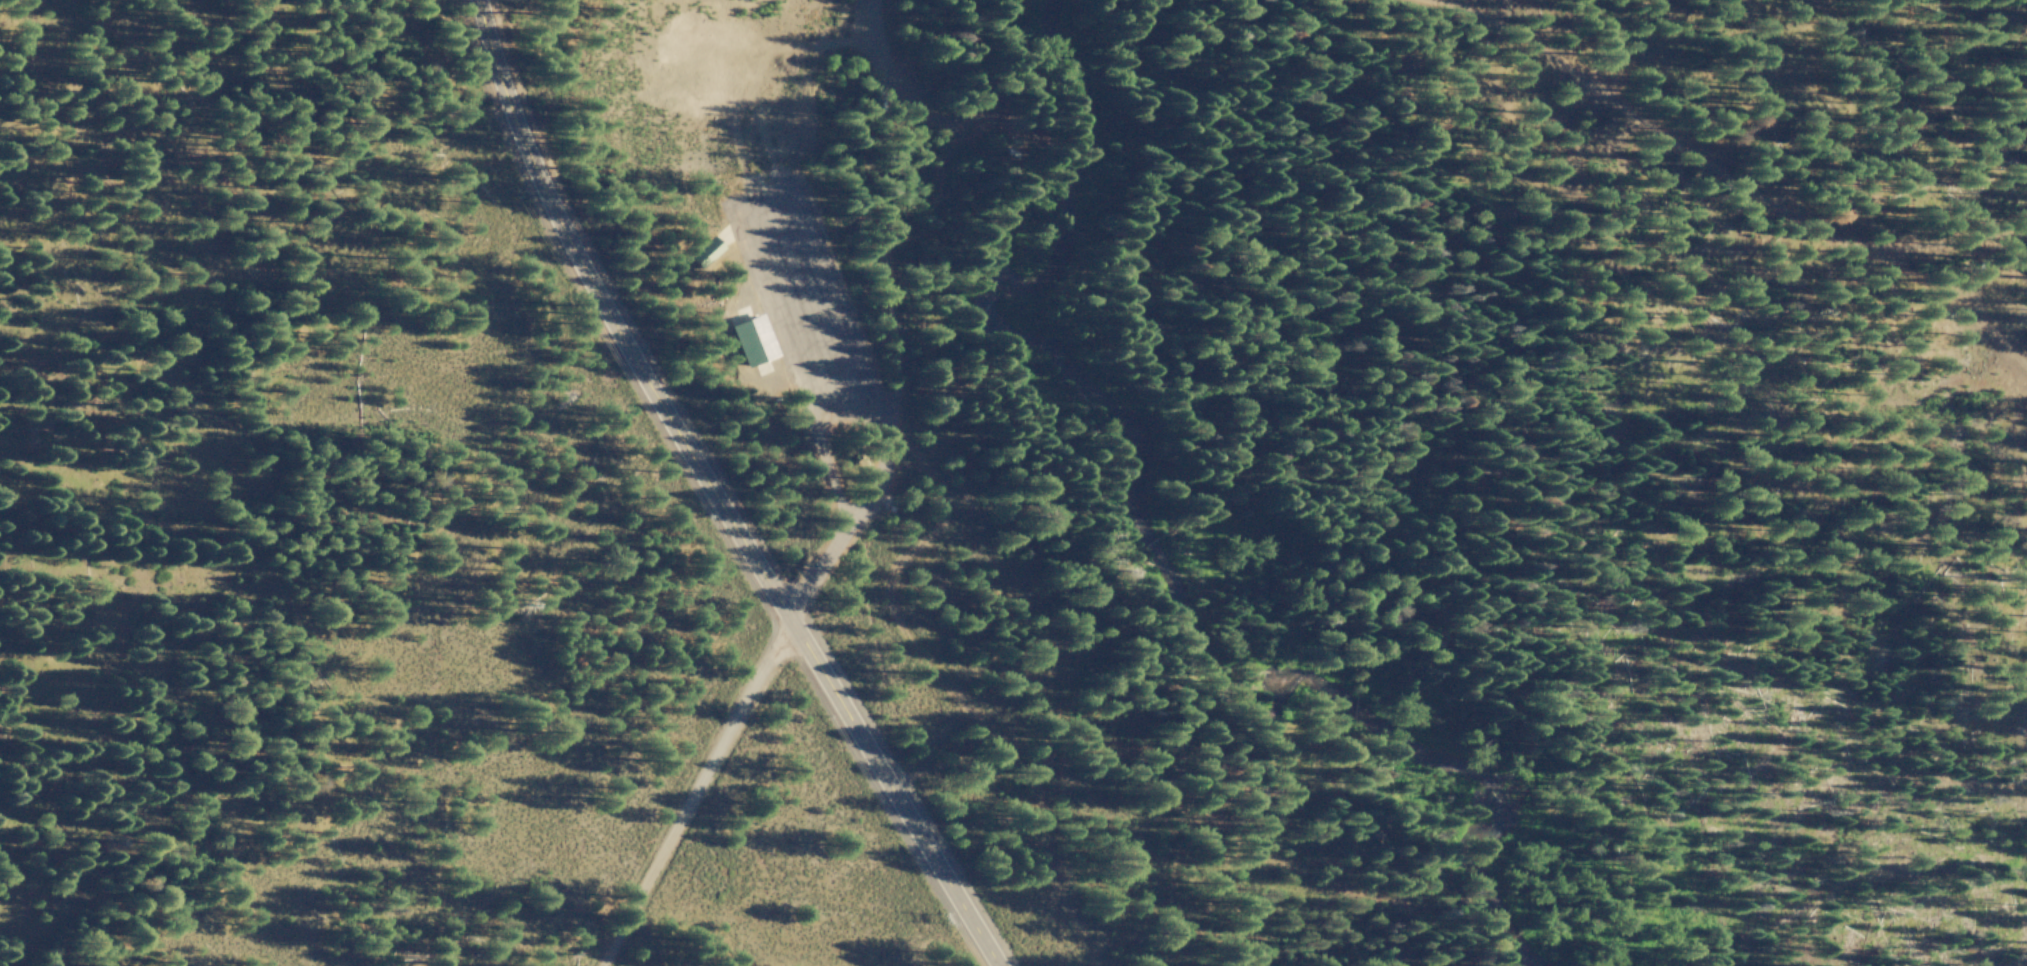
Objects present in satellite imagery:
road: (1902, 61)
quarry: (710, 82)
parking lot: (807, 313)
road: (1006, 337)
building: (749, 342)
road: (788, 365)
road: (709, 495)
road: (693, 796)

